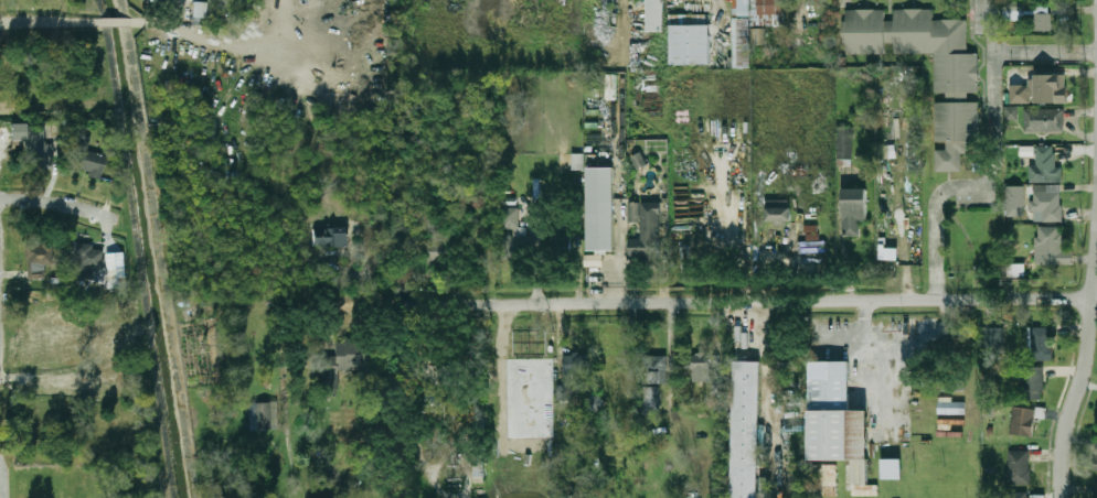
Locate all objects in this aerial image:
building: (143, 0)
building: (770, 7)
building: (200, 10)
building: (1014, 11)
building: (654, 15)
road: (51, 22)
road: (119, 22)
road: (148, 22)
building: (1042, 22)
road: (219, 30)
building: (741, 34)
building: (690, 40)
road: (1018, 53)
building: (955, 72)
building: (1043, 87)
building: (1011, 112)
building: (1043, 119)
road: (619, 127)
building: (844, 142)
building: (35, 144)
building: (86, 158)
building: (1045, 164)
road: (972, 186)
building: (1015, 195)
road: (57, 203)
building: (1046, 203)
building: (600, 208)
building: (854, 209)
building: (812, 213)
building: (779, 216)
building: (510, 217)
building: (645, 230)
building: (811, 231)
building: (330, 239)
building: (1047, 243)
building: (438, 246)
river: (157, 248)
building: (887, 253)
building: (38, 259)
building: (87, 260)
building: (114, 270)
building: (1015, 270)
road: (386, 302)
road: (761, 302)
building: (993, 342)
building: (1040, 344)
road: (899, 345)
building: (350, 358)
building: (576, 362)
building: (701, 367)
building: (654, 369)
building: (502, 371)
road: (15, 376)
building: (1032, 382)
road: (1075, 387)
building: (620, 389)
building: (563, 392)
building: (651, 400)
building: (593, 404)
building: (264, 416)
building: (837, 419)
building: (1022, 421)
building: (745, 429)
building: (625, 436)
building: (1096, 448)
building: (1018, 466)
building: (891, 468)
building: (566, 489)
building: (1096, 490)
building: (1019, 496)

